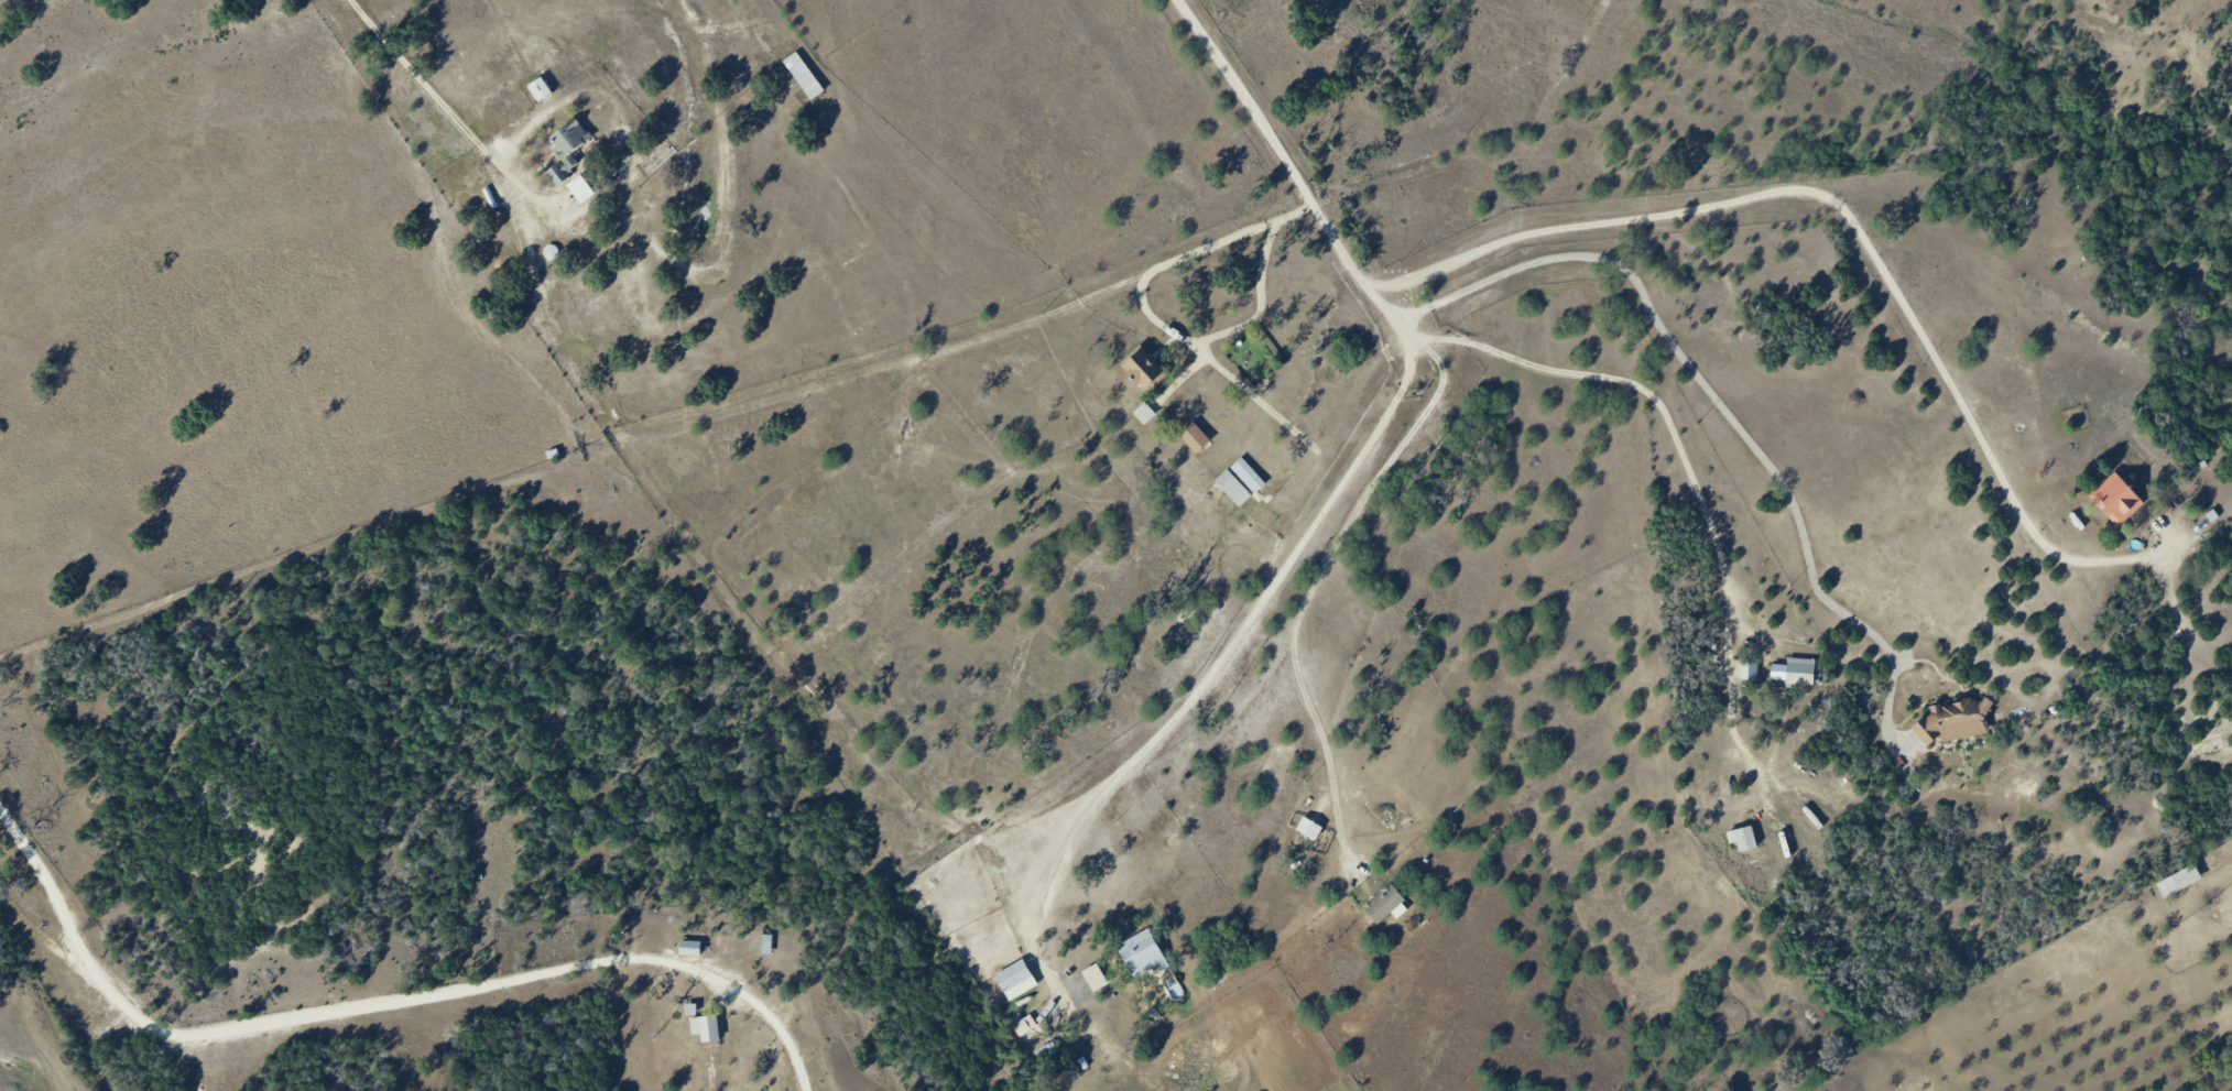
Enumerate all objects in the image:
building: (804, 76)
building: (540, 90)
road: (455, 111)
building: (581, 161)
building: (581, 190)
road: (1311, 196)
building: (1142, 369)
building: (1144, 414)
building: (1195, 438)
building: (1241, 482)
building: (2116, 500)
building: (1749, 672)
building: (1800, 673)
building: (1955, 722)
building: (1743, 839)
building: (2179, 882)
building: (1384, 904)
building: (762, 942)
building: (690, 949)
building: (1141, 953)
building: (1096, 979)
building: (1016, 981)
building: (1025, 1027)
building: (706, 1028)

